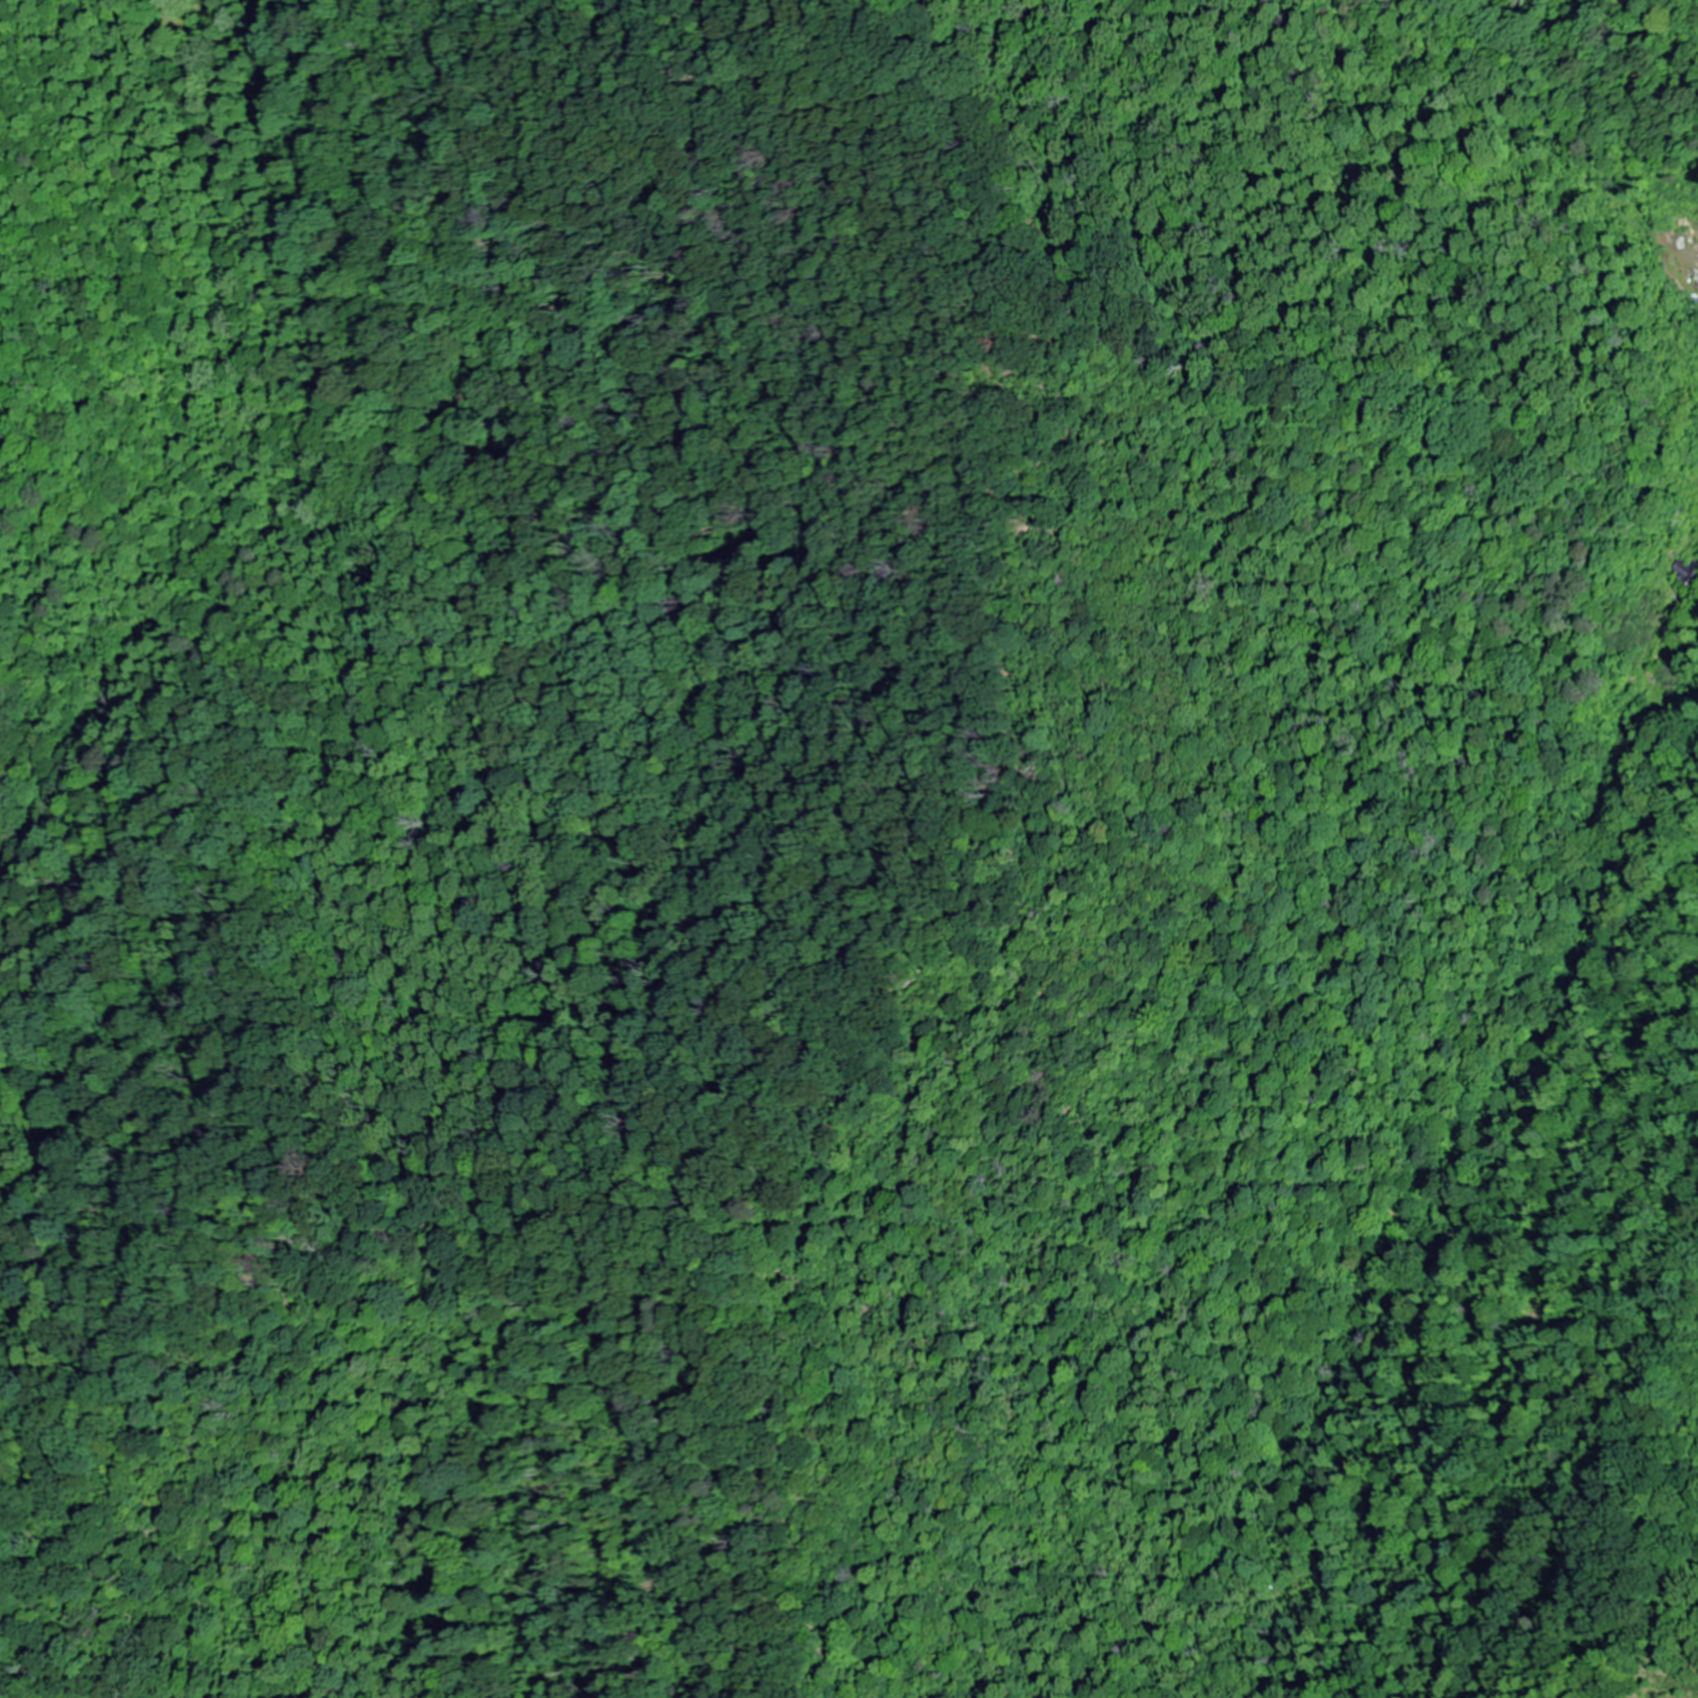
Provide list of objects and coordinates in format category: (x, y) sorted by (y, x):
building: (1685, 573)

